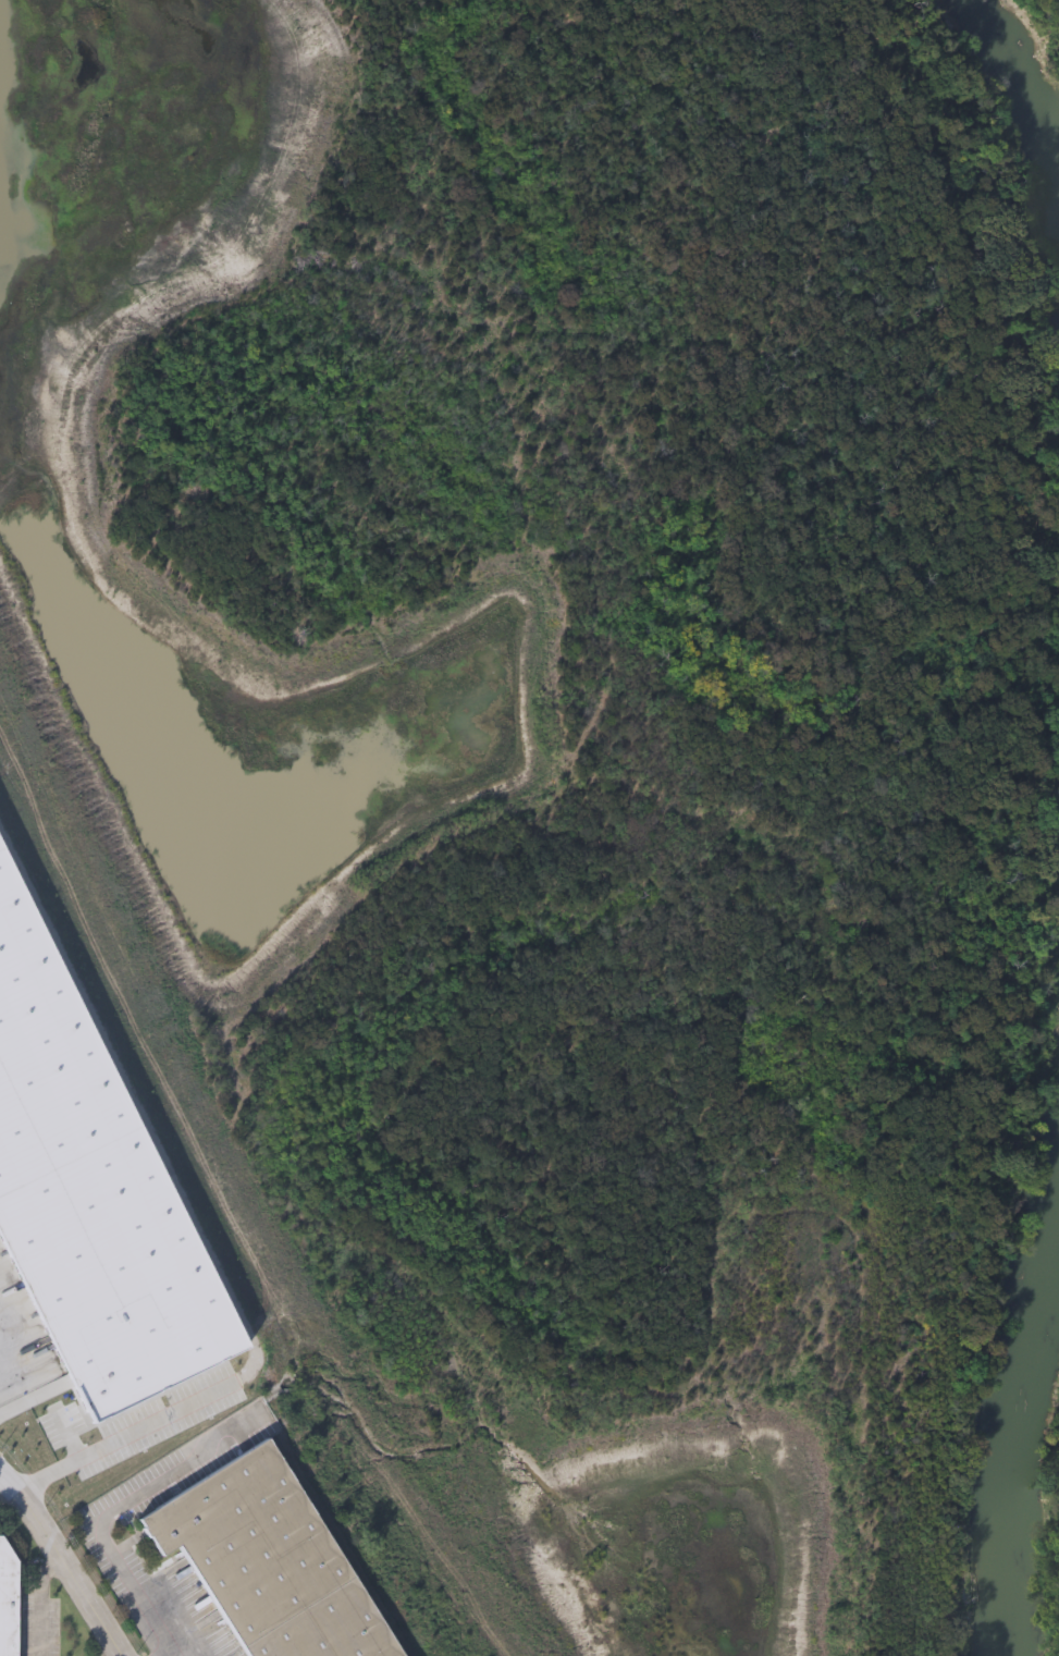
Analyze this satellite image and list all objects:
river: (1026, 107)
building: (86, 1199)
road: (188, 1230)
road: (7, 1386)
river: (1011, 1434)
road: (7, 1492)
road: (123, 1507)
building: (268, 1561)
road: (61, 1563)
building: (11, 1602)
road: (41, 1605)
road: (182, 1642)
road: (119, 1655)

